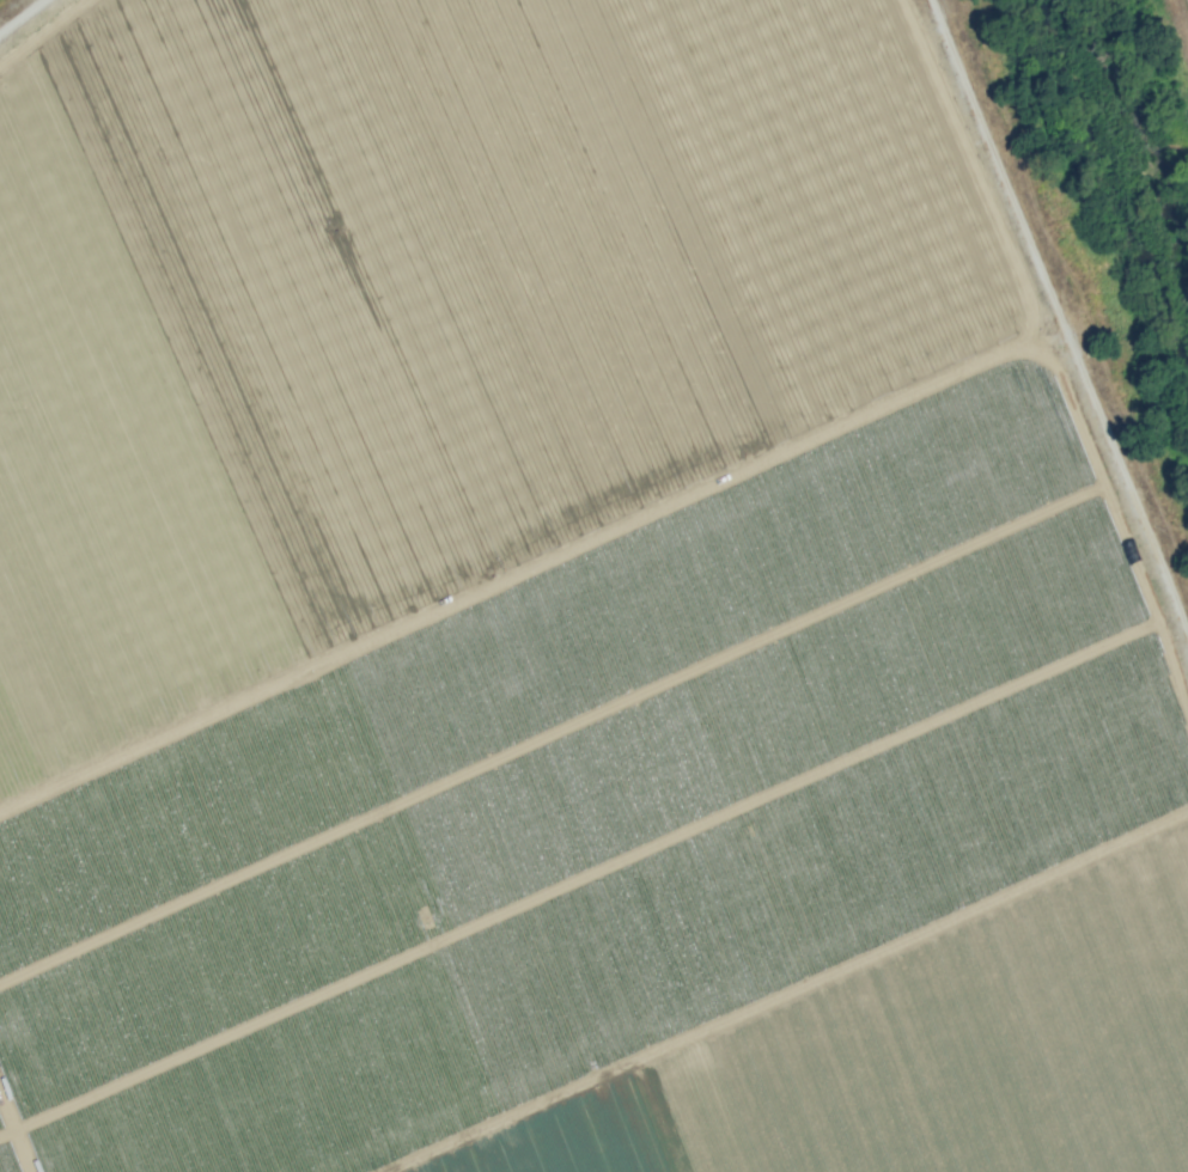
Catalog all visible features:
river: (1126, 157)
crop: (575, 506)
crop: (702, 1054)

